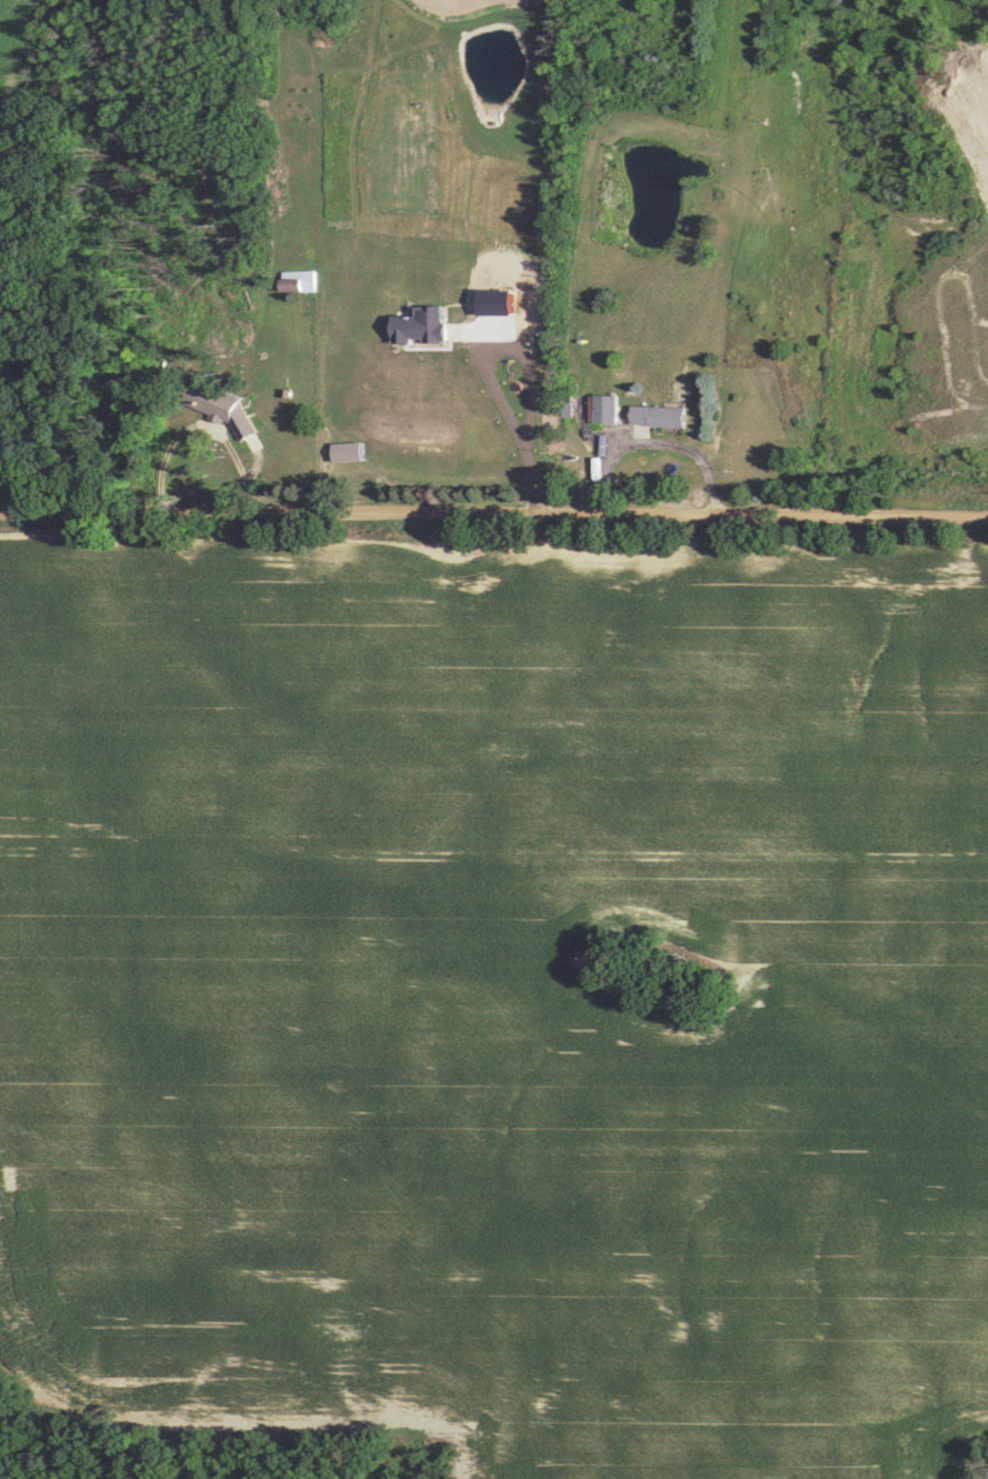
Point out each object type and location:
building: (296, 280)
building: (211, 400)
building: (603, 410)
road: (510, 416)
building: (656, 416)
road: (201, 425)
road: (653, 442)
building: (346, 452)
road: (493, 510)

